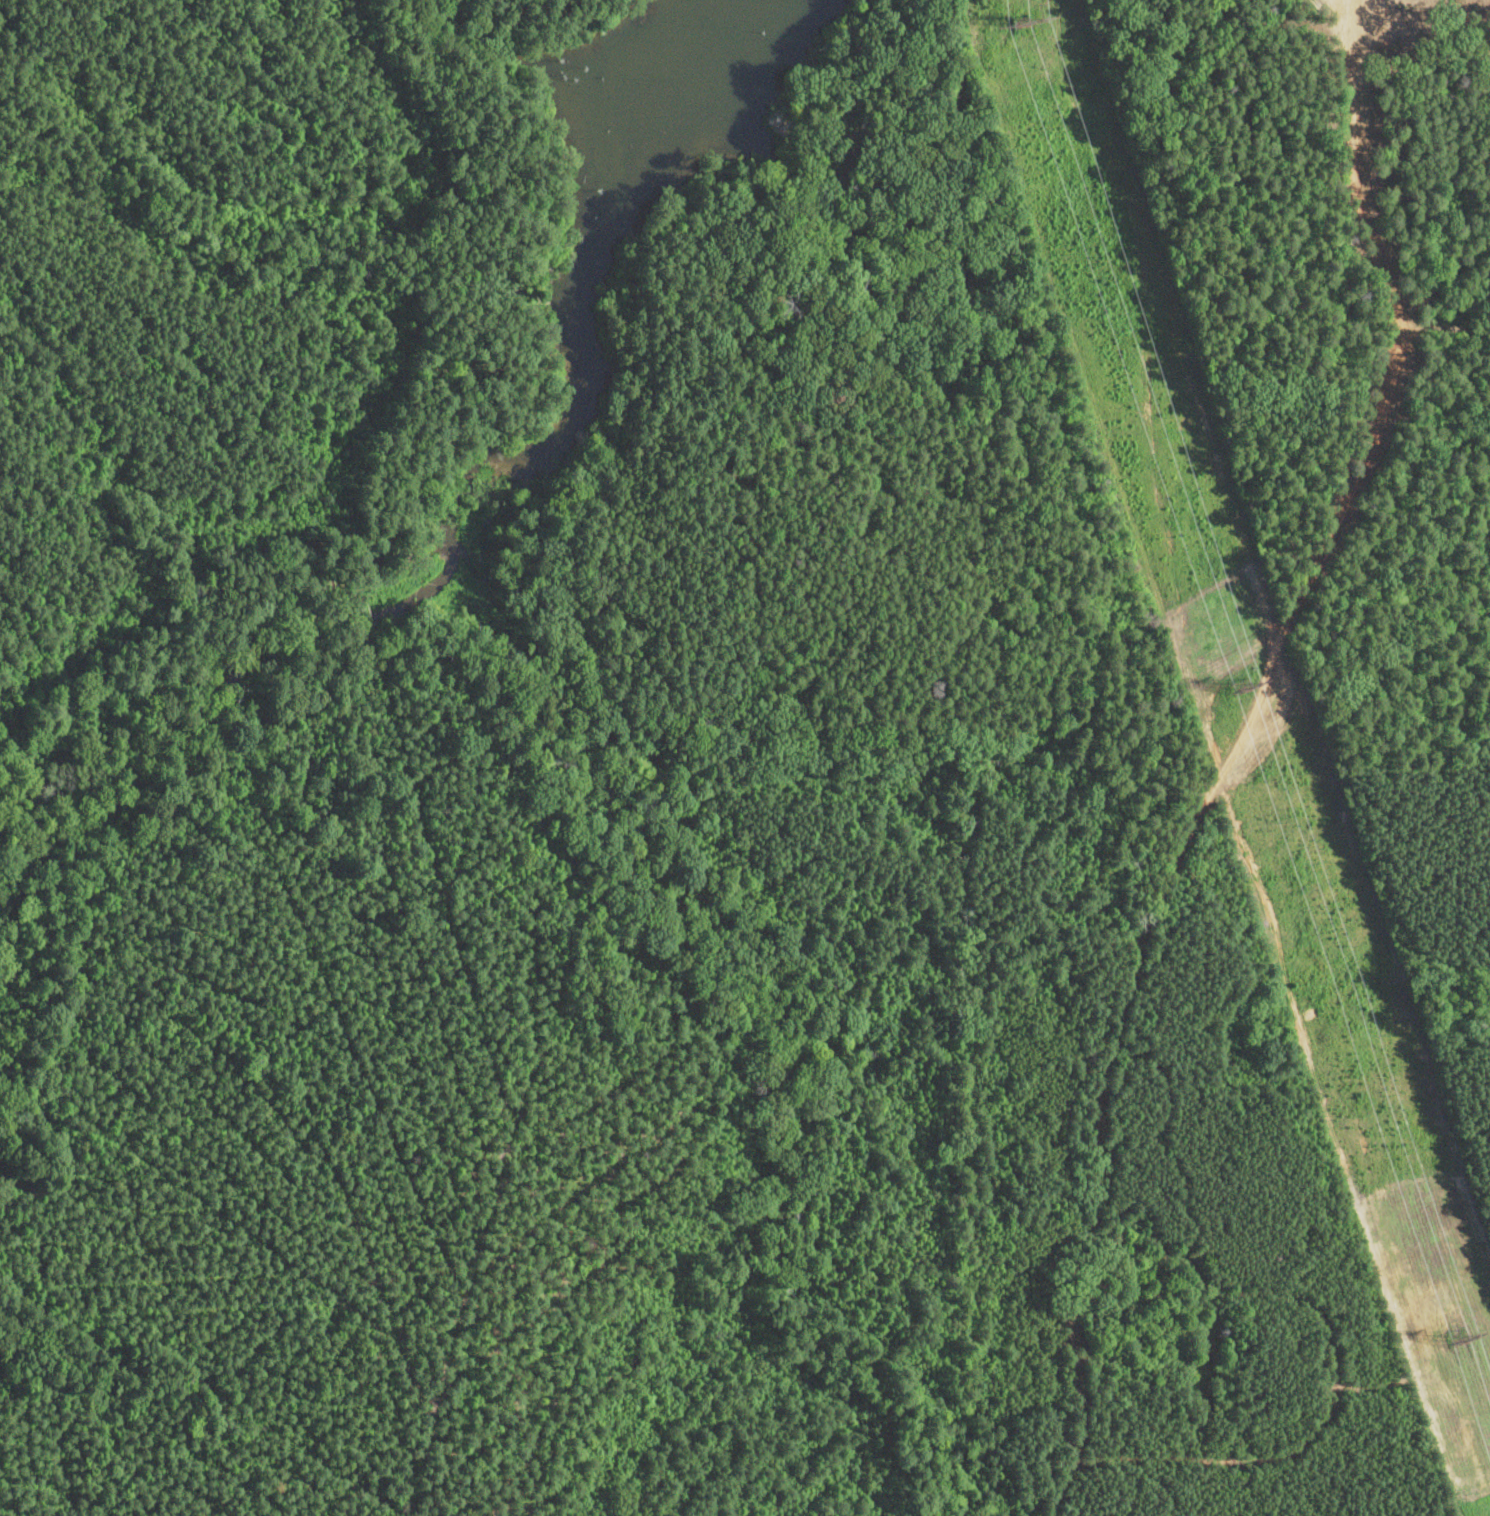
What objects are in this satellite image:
power tower: (1020, 31)
power tower: (1239, 693)
power tower: (1457, 1349)

